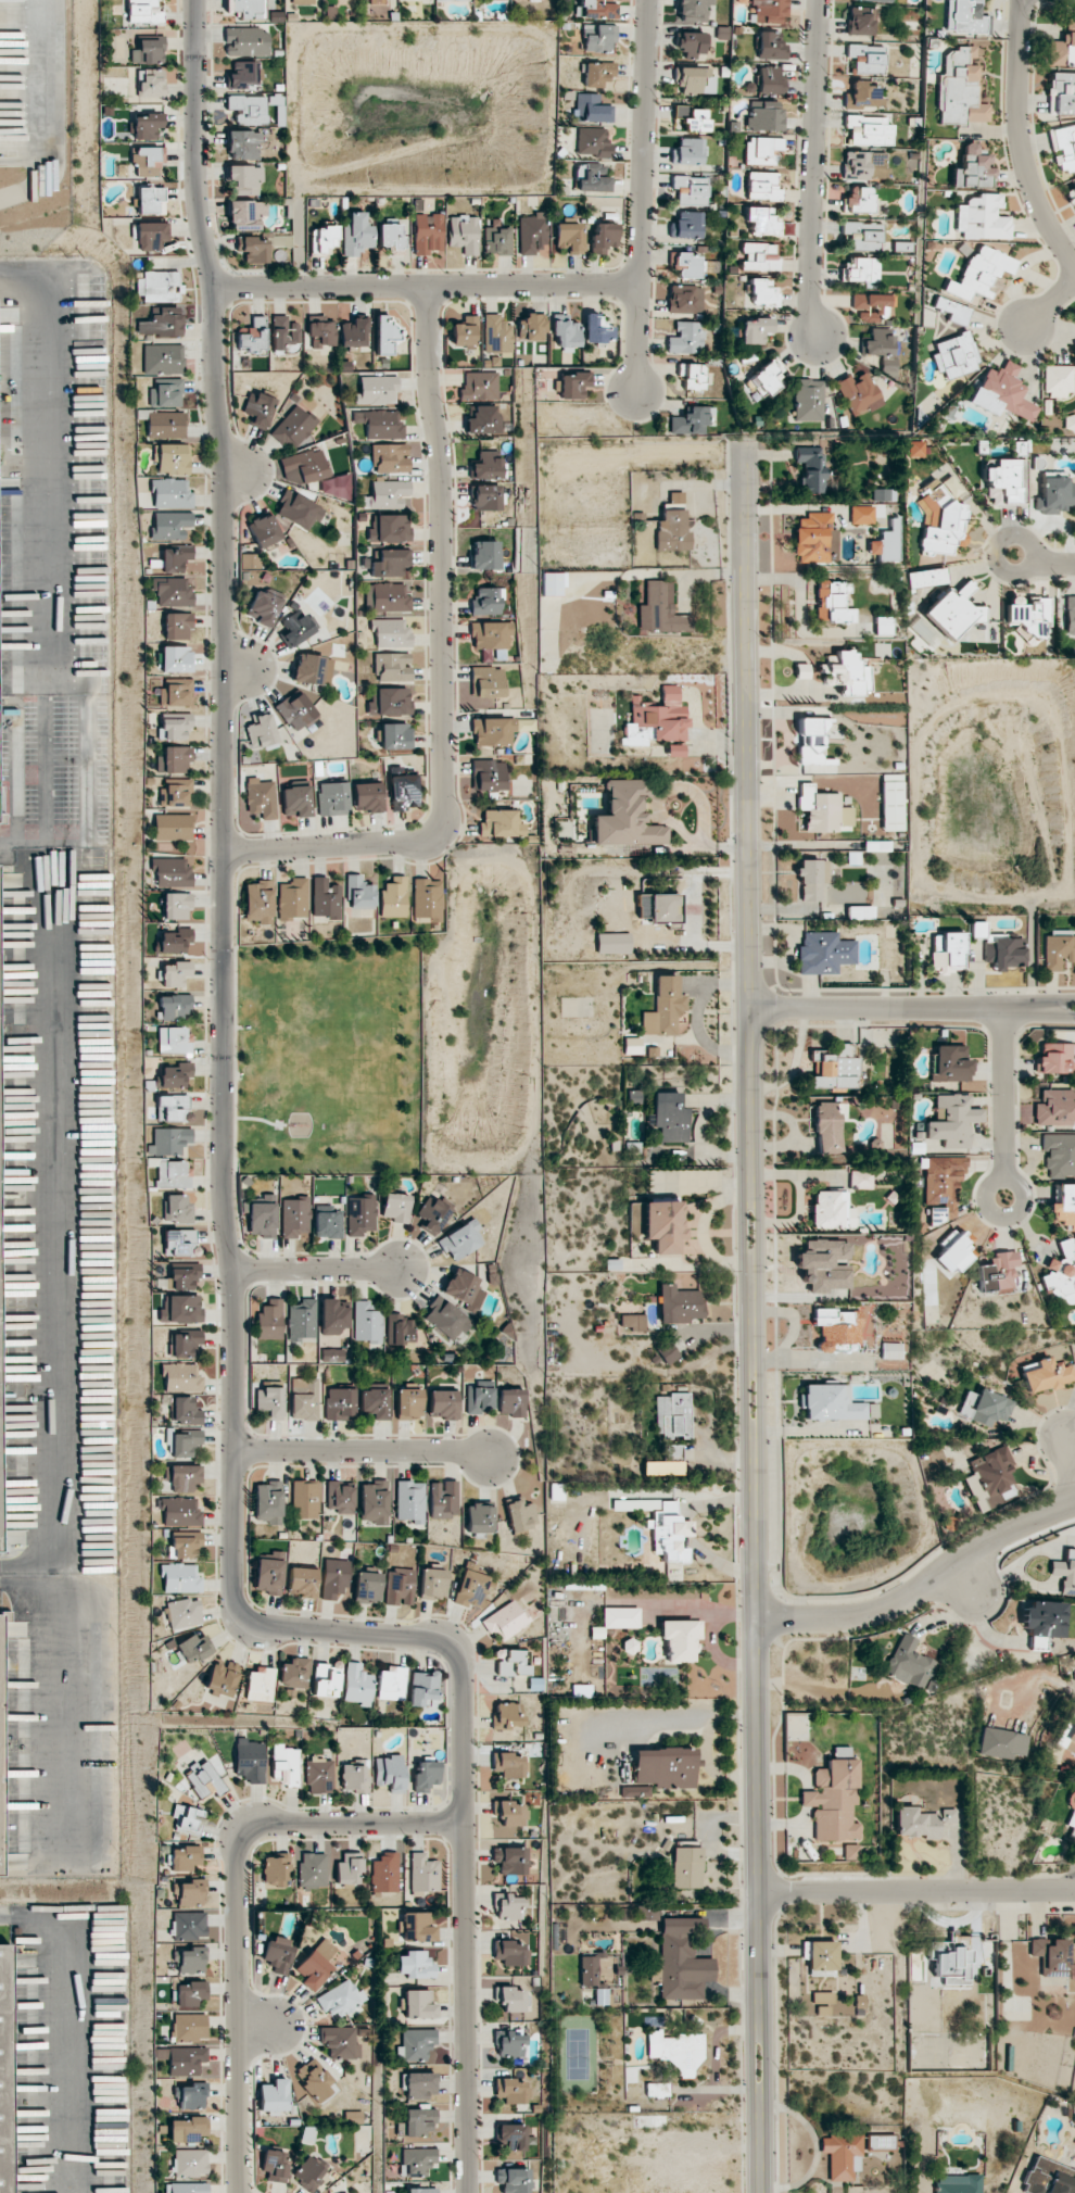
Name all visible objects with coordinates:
building: (875, 0)
building: (301, 1)
building: (246, 9)
building: (597, 9)
building: (692, 10)
building: (766, 11)
building: (142, 12)
building: (963, 16)
building: (860, 21)
building: (1070, 25)
building: (598, 38)
building: (246, 41)
building: (692, 43)
building: (770, 46)
building: (147, 50)
building: (1061, 51)
building: (867, 59)
building: (597, 73)
building: (242, 74)
building: (694, 80)
building: (770, 80)
building: (149, 84)
building: (958, 89)
building: (1061, 93)
building: (862, 96)
building: (248, 109)
building: (591, 109)
road: (45, 114)
building: (763, 116)
building: (692, 118)
building: (146, 126)
building: (869, 130)
road: (1020, 140)
building: (593, 142)
building: (242, 144)
building: (1063, 147)
building: (762, 151)
building: (687, 152)
building: (149, 162)
building: (863, 165)
building: (972, 168)
road: (810, 169)
building: (593, 178)
building: (244, 179)
building: (761, 186)
building: (690, 189)
road: (642, 198)
building: (150, 200)
building: (860, 201)
building: (245, 214)
building: (982, 218)
building: (760, 220)
building: (686, 225)
building: (427, 234)
building: (464, 234)
building: (356, 235)
building: (390, 235)
building: (533, 235)
building: (149, 236)
building: (860, 236)
building: (569, 237)
building: (603, 237)
building: (321, 239)
building: (497, 240)
building: (254, 249)
building: (758, 256)
building: (688, 266)
building: (859, 269)
building: (981, 275)
building: (155, 286)
road: (425, 287)
building: (762, 292)
building: (684, 299)
road: (1049, 304)
building: (952, 311)
building: (160, 323)
building: (532, 328)
building: (596, 329)
building: (754, 330)
building: (565, 331)
building: (284, 332)
building: (353, 332)
building: (464, 332)
building: (321, 333)
building: (385, 333)
building: (496, 335)
building: (253, 337)
building: (685, 338)
building: (880, 344)
building: (953, 355)
building: (162, 358)
building: (692, 376)
building: (767, 376)
building: (1058, 380)
building: (572, 385)
building: (479, 386)
building: (376, 390)
building: (165, 392)
building: (858, 393)
building: (1000, 393)
building: (808, 400)
building: (257, 409)
building: (483, 419)
building: (692, 420)
building: (379, 424)
building: (165, 425)
building: (292, 428)
building: (914, 449)
building: (389, 457)
building: (172, 458)
building: (307, 465)
building: (485, 466)
road: (243, 467)
building: (810, 468)
building: (291, 477)
building: (334, 487)
building: (170, 493)
building: (1054, 493)
building: (384, 494)
building: (881, 494)
building: (485, 496)
building: (298, 511)
building: (861, 515)
building: (940, 520)
building: (169, 525)
building: (387, 528)
building: (672, 529)
building: (263, 530)
building: (814, 538)
building: (485, 555)
building: (175, 558)
road: (442, 558)
road: (1044, 562)
building: (389, 563)
building: (925, 578)
building: (551, 583)
building: (170, 591)
building: (385, 597)
building: (486, 602)
building: (832, 602)
building: (263, 607)
building: (660, 609)
building: (1071, 609)
building: (952, 610)
building: (1027, 616)
building: (882, 625)
building: (176, 626)
building: (295, 629)
building: (390, 632)
building: (491, 637)
building: (175, 658)
building: (392, 667)
building: (312, 669)
road: (244, 670)
building: (488, 682)
building: (175, 692)
building: (483, 701)
building: (389, 702)
building: (295, 711)
building: (656, 719)
road: (746, 722)
building: (526, 724)
building: (174, 726)
building: (260, 731)
building: (493, 731)
building: (394, 735)
building: (812, 742)
building: (675, 751)
building: (173, 759)
building: (489, 774)
building: (403, 789)
building: (175, 792)
building: (366, 796)
building: (260, 797)
building: (332, 798)
building: (295, 801)
building: (891, 803)
building: (822, 809)
road: (220, 810)
building: (625, 817)
building: (2, 818)
building: (501, 823)
building: (173, 827)
road: (328, 846)
building: (170, 871)
building: (812, 879)
building: (359, 893)
building: (393, 897)
building: (292, 898)
building: (325, 898)
building: (427, 899)
building: (257, 902)
building: (176, 906)
building: (661, 910)
building: (860, 912)
building: (173, 941)
building: (612, 943)
building: (1000, 948)
building: (1058, 948)
building: (947, 951)
building: (824, 953)
building: (175, 973)
road: (1058, 1004)
building: (173, 1006)
building: (665, 1008)
road: (895, 1009)
road: (1058, 1013)
building: (173, 1039)
park: (326, 1056)
building: (1055, 1059)
building: (950, 1063)
building: (835, 1068)
building: (173, 1075)
building: (633, 1096)
road: (1004, 1104)
building: (172, 1108)
building: (1055, 1108)
building: (669, 1118)
building: (951, 1121)
building: (827, 1127)
building: (167, 1140)
building: (1059, 1152)
building: (172, 1174)
building: (941, 1185)
building: (1063, 1206)
building: (395, 1207)
building: (176, 1209)
building: (831, 1210)
building: (359, 1214)
building: (431, 1214)
building: (262, 1217)
building: (294, 1218)
building: (327, 1224)
building: (662, 1226)
building: (460, 1239)
building: (178, 1243)
building: (953, 1251)
building: (822, 1264)
road: (315, 1270)
building: (997, 1272)
building: (1061, 1273)
building: (181, 1277)
building: (464, 1288)
building: (679, 1305)
building: (179, 1308)
building: (332, 1316)
building: (445, 1319)
building: (269, 1320)
building: (301, 1320)
building: (366, 1322)
building: (632, 1322)
building: (399, 1329)
building: (185, 1344)
building: (890, 1351)
building: (667, 1352)
building: (331, 1354)
building: (1046, 1375)
building: (180, 1377)
building: (303, 1399)
building: (479, 1400)
building: (269, 1401)
building: (511, 1401)
building: (831, 1402)
building: (339, 1403)
building: (372, 1403)
building: (408, 1403)
building: (442, 1404)
building: (985, 1407)
building: (185, 1411)
building: (672, 1414)
building: (184, 1442)
road: (361, 1451)
road: (1071, 1451)
building: (665, 1462)
building: (989, 1475)
building: (181, 1476)
building: (339, 1497)
building: (305, 1499)
building: (443, 1499)
building: (409, 1501)
building: (267, 1502)
building: (374, 1502)
building: (179, 1511)
building: (520, 1515)
building: (479, 1518)
building: (0, 1524)
building: (669, 1533)
building: (186, 1545)
building: (1065, 1571)
building: (268, 1573)
building: (179, 1578)
building: (333, 1578)
building: (302, 1581)
building: (432, 1583)
building: (470, 1585)
road: (925, 1585)
building: (367, 1587)
building: (399, 1587)
road: (755, 1601)
building: (184, 1613)
building: (505, 1617)
building: (620, 1617)
building: (1041, 1622)
road: (345, 1631)
building: (680, 1639)
building: (193, 1648)
building: (511, 1662)
building: (908, 1663)
building: (294, 1673)
building: (222, 1678)
building: (326, 1680)
building: (391, 1684)
building: (260, 1685)
building: (357, 1685)
building: (422, 1687)
building: (507, 1715)
building: (1067, 1735)
building: (1001, 1743)
building: (249, 1761)
building: (508, 1764)
building: (284, 1765)
building: (665, 1767)
building: (389, 1773)
building: (318, 1775)
building: (425, 1775)
building: (204, 1779)
building: (354, 1779)
building: (0, 1789)
building: (638, 1791)
building: (833, 1801)
building: (509, 1813)
building: (948, 1816)
building: (1072, 1817)
building: (187, 1818)
building: (914, 1823)
building: (851, 1852)
building: (184, 1856)
building: (510, 1860)
building: (686, 1867)
building: (349, 1868)
building: (312, 1869)
building: (275, 1870)
building: (384, 1873)
building: (423, 1873)
road: (916, 1889)
building: (189, 1892)
road: (238, 1900)
building: (644, 1912)
road: (463, 1918)
building: (189, 1925)
building: (415, 1927)
building: (511, 1953)
building: (820, 1954)
building: (276, 1955)
building: (1050, 1956)
building: (189, 1959)
building: (681, 1962)
building: (316, 1964)
building: (413, 1965)
building: (951, 1967)
building: (587, 1970)
building: (190, 1993)
building: (600, 1996)
building: (340, 1999)
building: (513, 2000)
building: (824, 2003)
building: (417, 2004)
road: (263, 2018)
building: (188, 2027)
road: (67, 2030)
building: (339, 2041)
building: (510, 2043)
building: (414, 2044)
building: (676, 2052)
building: (181, 2059)
building: (3, 2072)
building: (315, 2080)
building: (418, 2084)
building: (657, 2090)
building: (511, 2091)
building: (191, 2095)
building: (273, 2096)
building: (353, 2117)
building: (417, 2121)
building: (187, 2129)
building: (514, 2137)
building: (880, 2143)
building: (842, 2155)
building: (416, 2162)
building: (190, 2163)
building: (274, 2166)
building: (1057, 2168)
building: (308, 2172)
building: (514, 2180)
building: (957, 2183)
building: (185, 2188)
building: (420, 2190)

